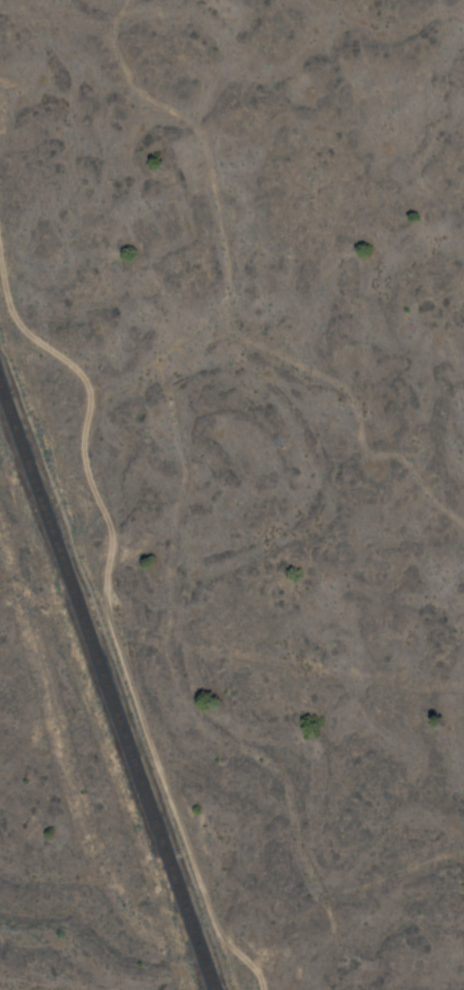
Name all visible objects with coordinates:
road: (231, 295)
railway: (106, 689)

